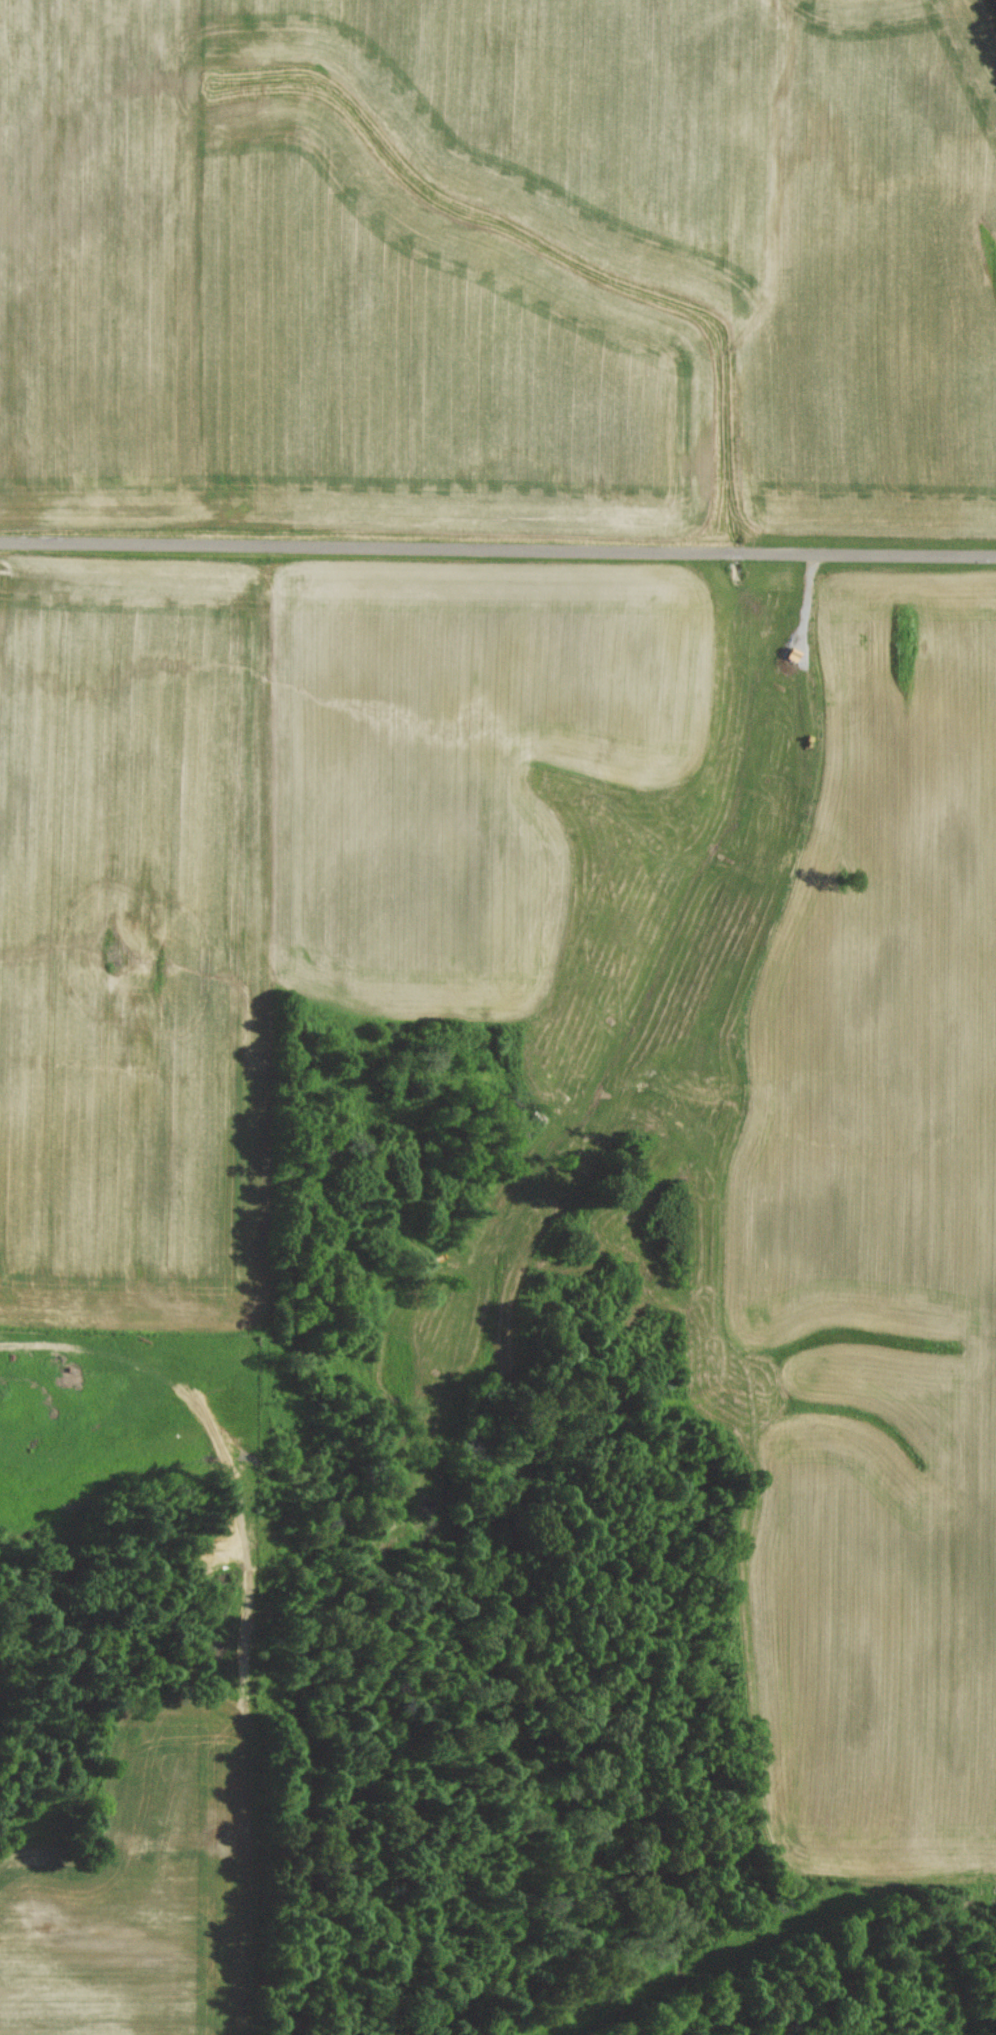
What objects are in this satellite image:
road: (498, 549)

